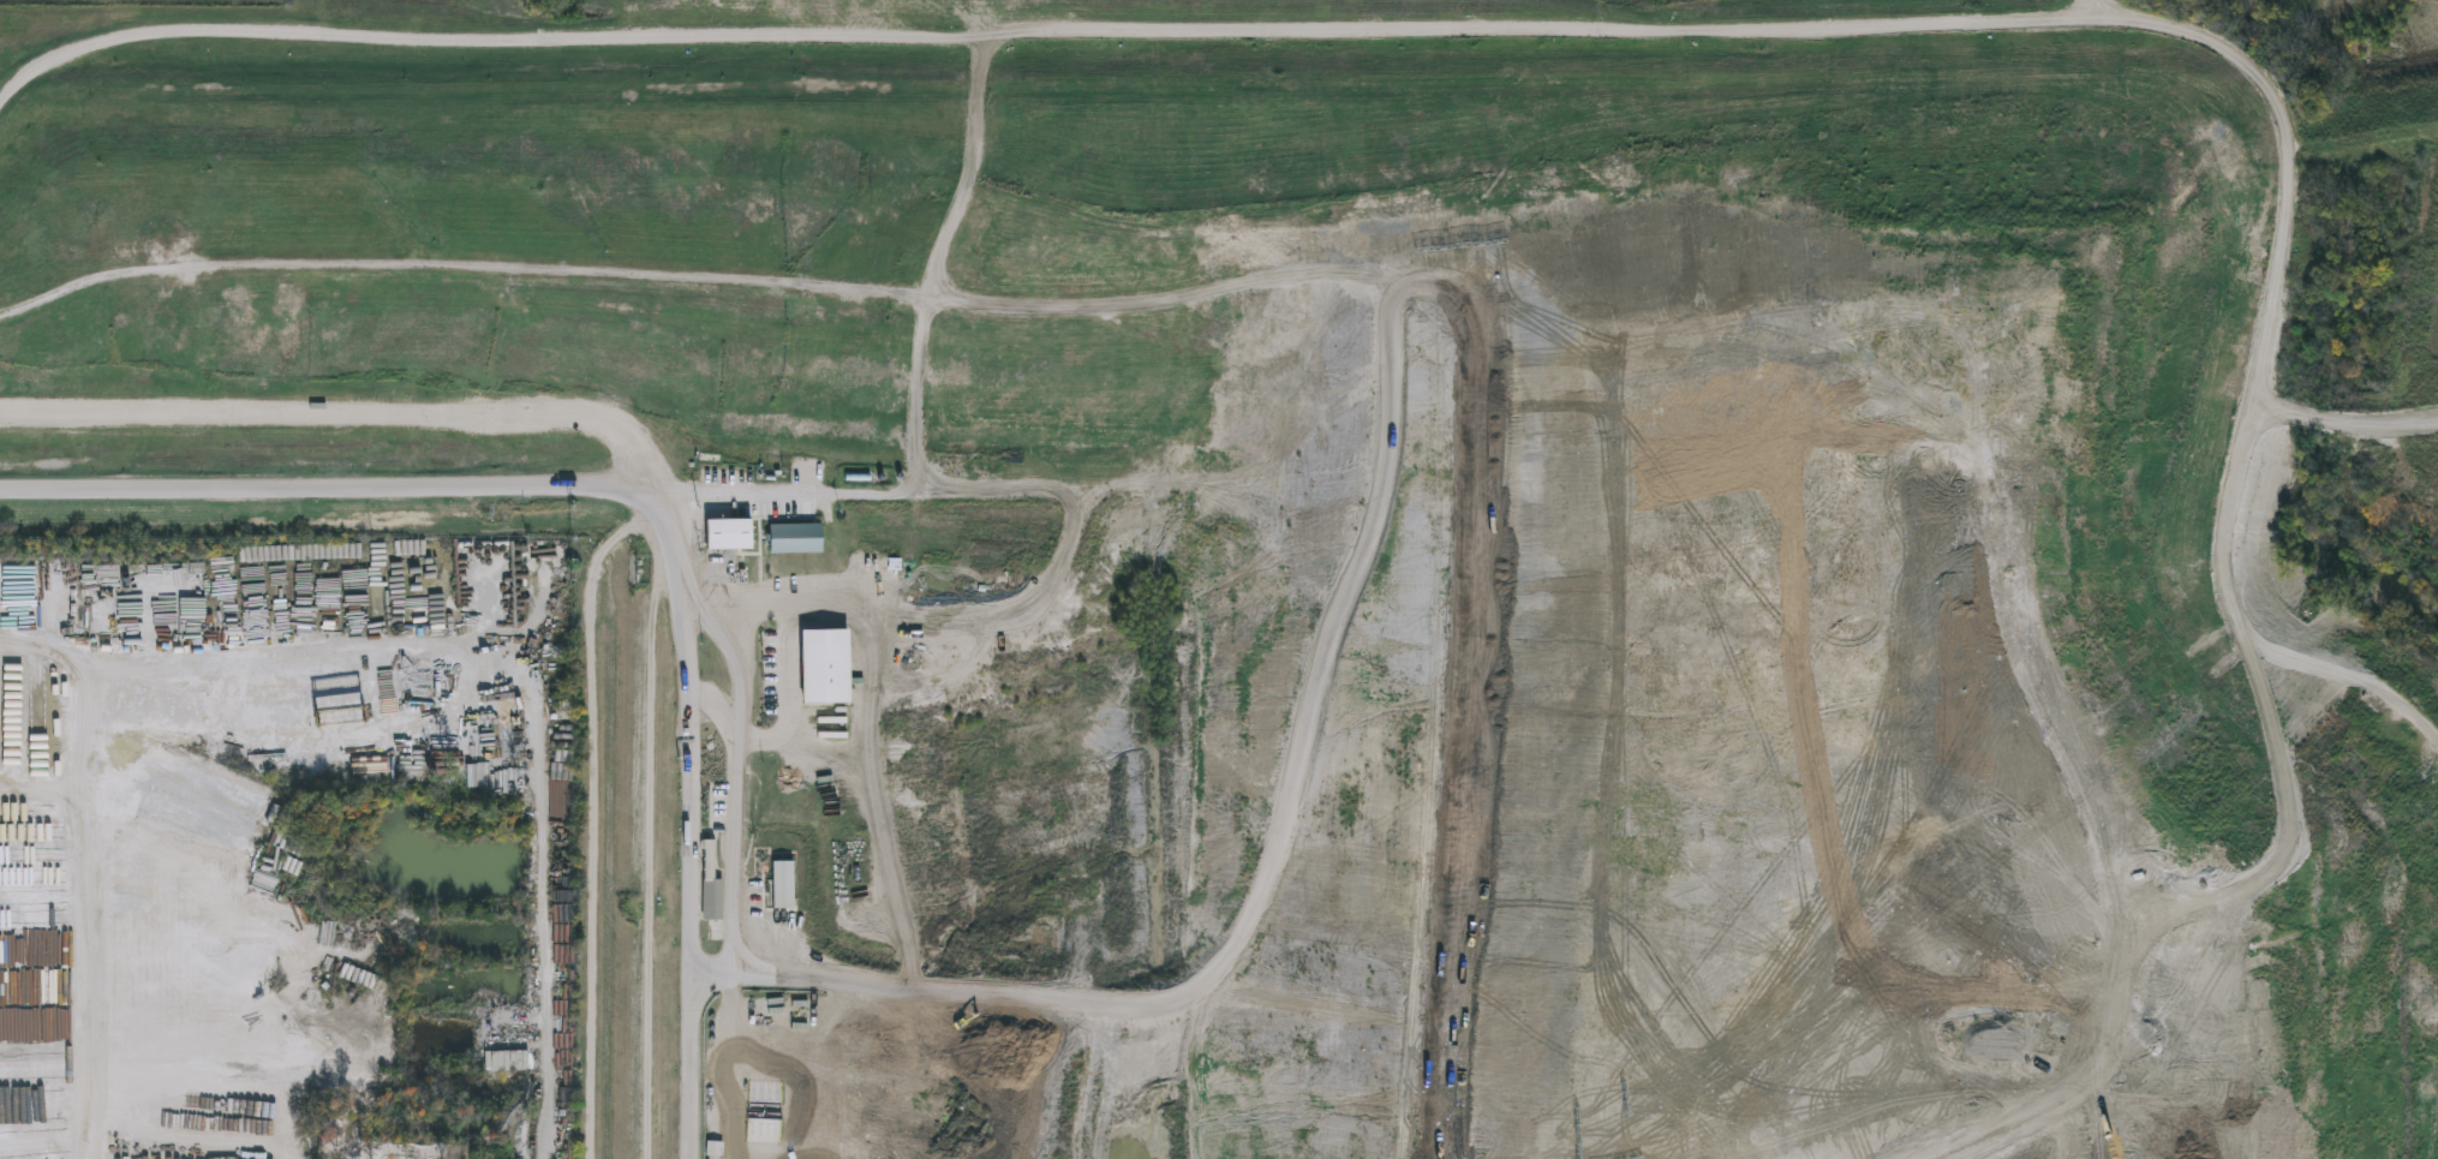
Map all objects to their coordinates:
road: (1761, 28)
road: (345, 411)
road: (407, 486)
building: (725, 536)
building: (793, 540)
landfill: (1321, 556)
road: (730, 653)
road: (83, 655)
building: (824, 668)
road: (478, 705)
road: (687, 739)
road: (736, 838)
building: (711, 885)
building: (285, 903)
road: (76, 907)
road: (689, 1087)
building: (764, 1129)
building: (716, 1151)

